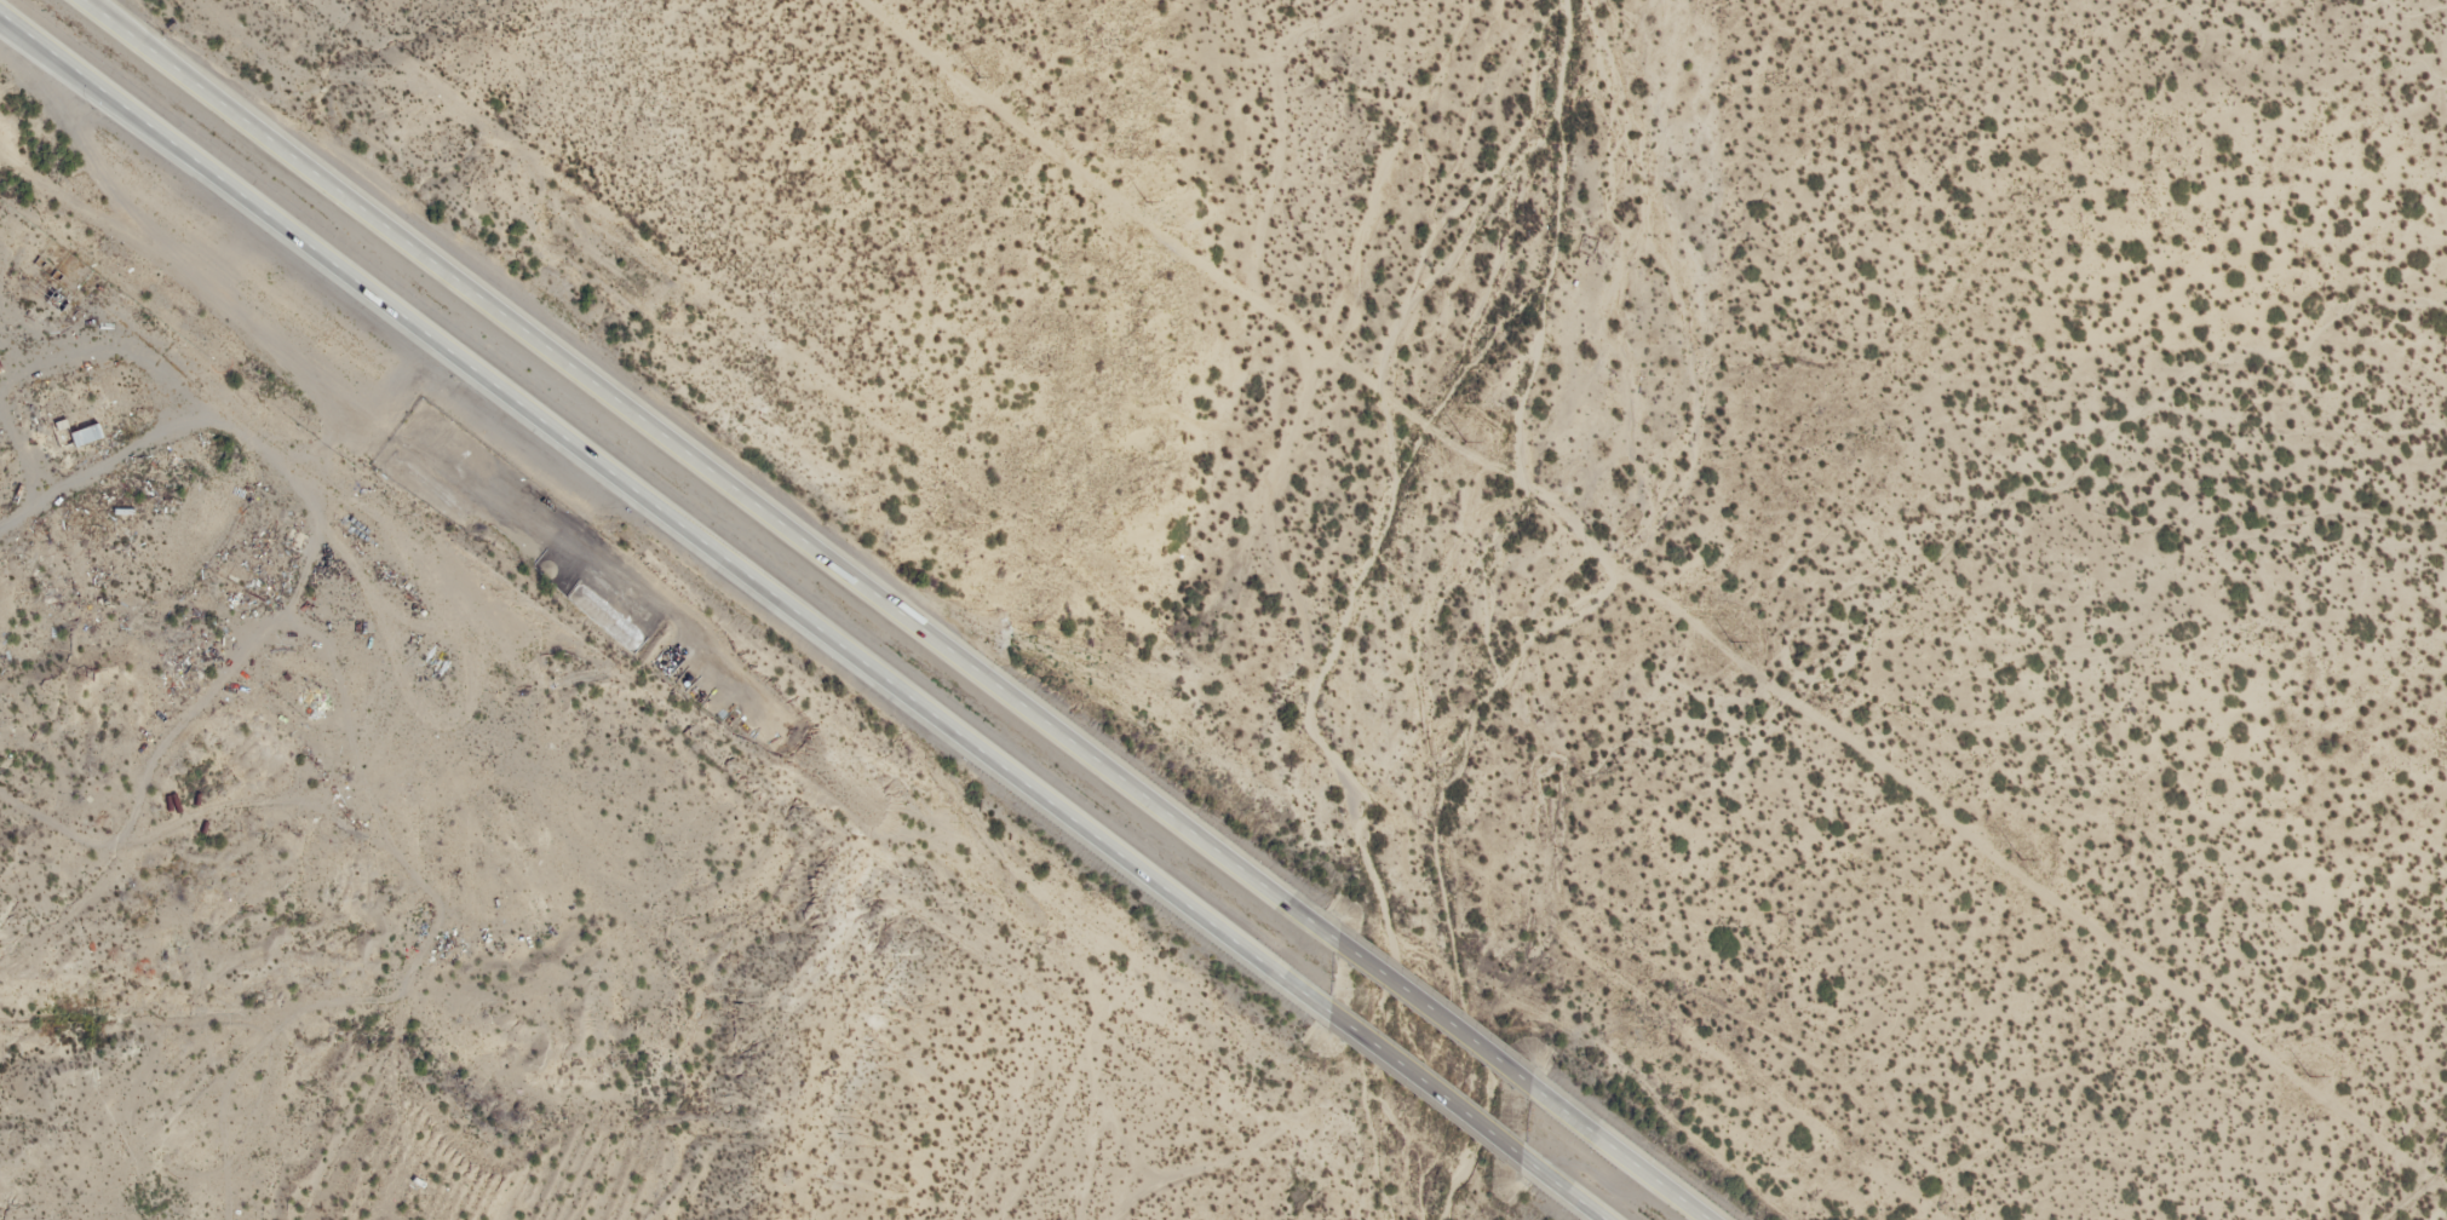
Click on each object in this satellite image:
road: (91, 7)
road: (69, 77)
road: (1340, 313)
building: (75, 430)
road: (716, 474)
road: (672, 516)
road: (120, 899)
road: (1441, 1022)
road: (1435, 1090)
road: (1619, 1155)
road: (1568, 1190)

